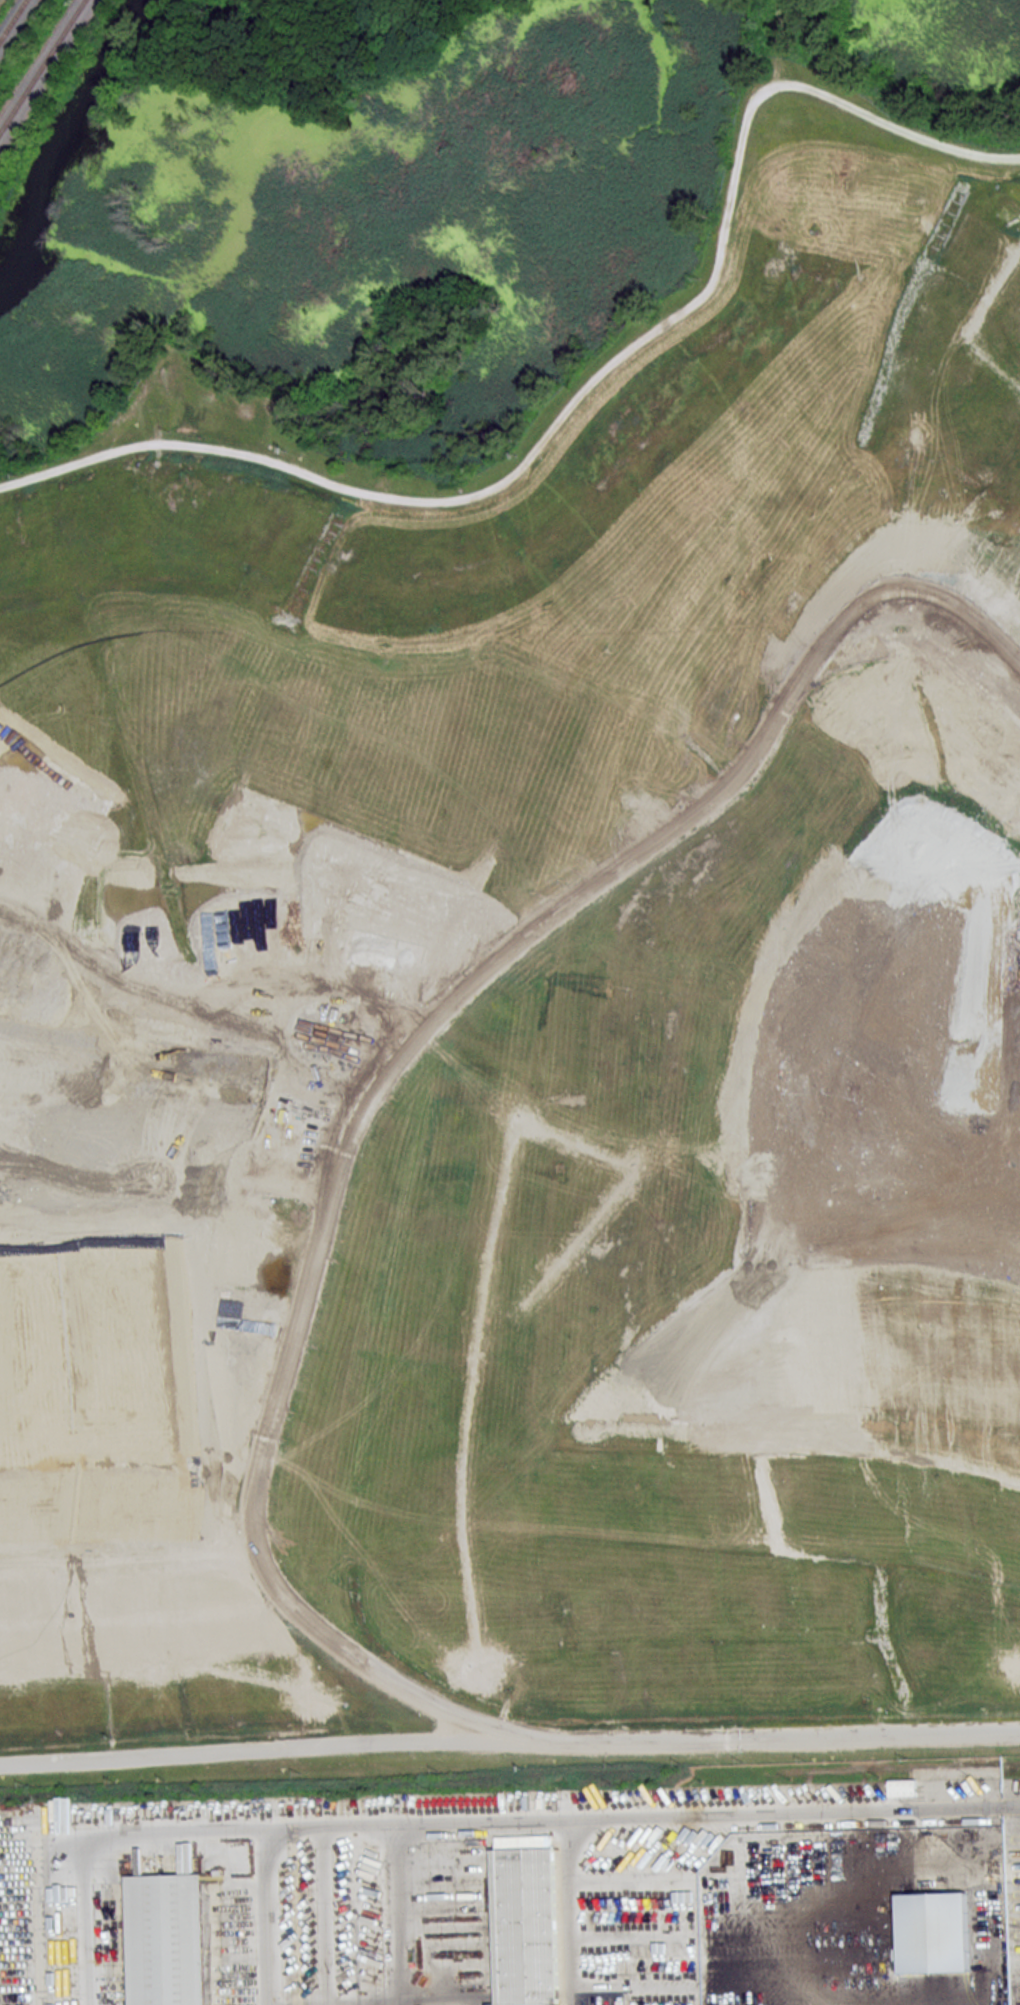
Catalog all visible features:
railway: (13, 21)
railway: (43, 67)
road: (584, 388)
landfill: (532, 1035)
road: (381, 1103)
road: (175, 1185)
road: (509, 1737)
building: (903, 1787)
road: (560, 1816)
road: (163, 1827)
parking lot: (520, 1888)
building: (527, 1920)
building: (933, 1932)
building: (165, 1936)

